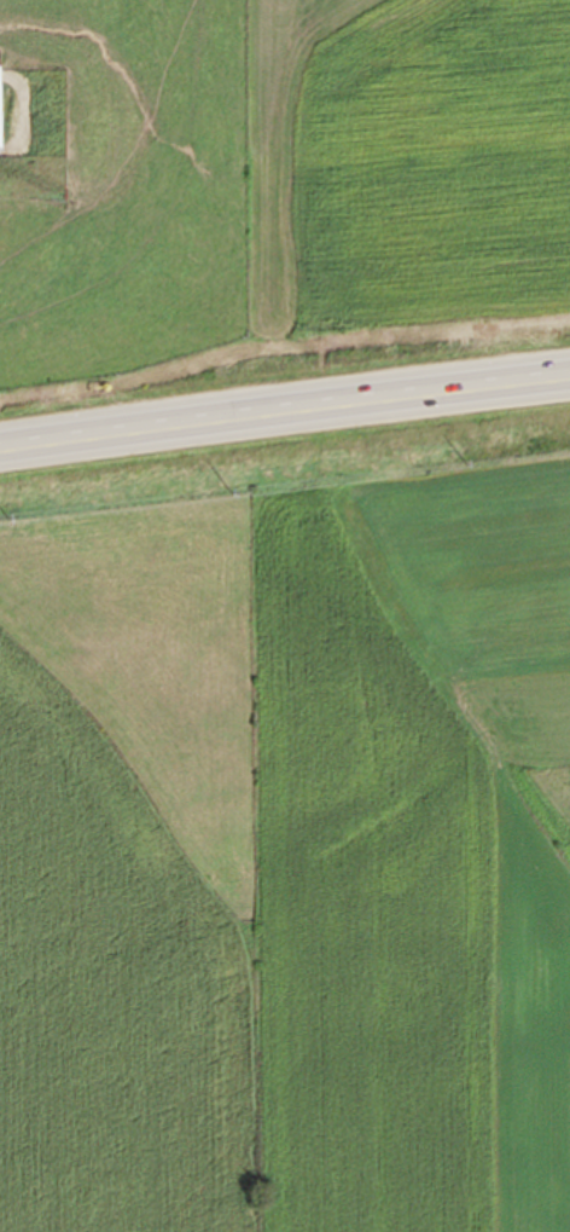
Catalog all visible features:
road: (284, 410)

